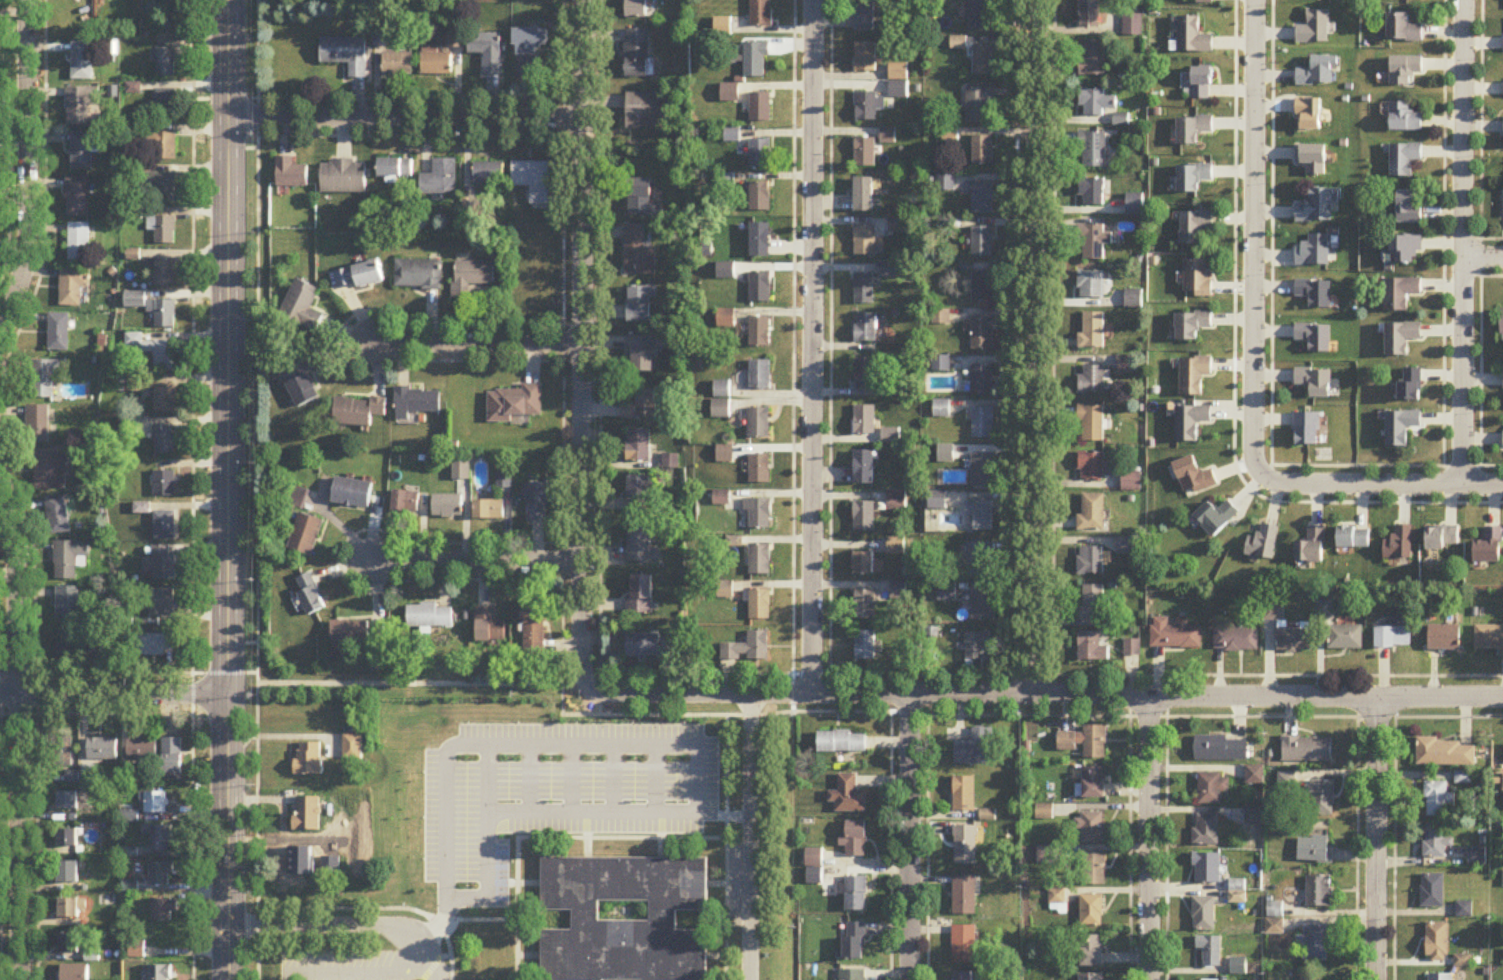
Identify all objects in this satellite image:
building: (1199, 1)
building: (636, 9)
building: (761, 13)
building: (1089, 14)
building: (865, 15)
building: (980, 15)
building: (1315, 29)
building: (1403, 30)
building: (1193, 38)
building: (529, 52)
building: (488, 53)
building: (636, 54)
building: (346, 56)
building: (866, 59)
building: (1093, 59)
building: (756, 61)
building: (82, 62)
building: (983, 62)
building: (165, 64)
building: (398, 66)
building: (436, 66)
building: (1404, 70)
building: (1318, 72)
building: (898, 82)
building: (1202, 85)
road: (454, 91)
building: (730, 94)
building: (1096, 104)
building: (164, 106)
building: (979, 107)
building: (867, 108)
building: (761, 109)
building: (80, 110)
building: (643, 112)
road: (405, 116)
building: (1309, 116)
building: (1404, 119)
road: (562, 130)
road: (1480, 130)
building: (1193, 131)
building: (888, 136)
building: (161, 147)
building: (984, 151)
building: (1093, 151)
building: (82, 152)
building: (865, 153)
building: (761, 155)
building: (1312, 160)
building: (1404, 160)
road: (30, 166)
building: (395, 169)
building: (291, 175)
building: (488, 175)
building: (343, 178)
building: (1193, 178)
building: (440, 180)
building: (533, 181)
building: (163, 189)
building: (1092, 193)
building: (863, 196)
building: (77, 197)
building: (760, 198)
building: (641, 200)
building: (983, 200)
building: (1135, 206)
building: (1316, 208)
building: (1409, 208)
building: (1194, 228)
building: (162, 230)
road: (1442, 233)
road: (1252, 238)
building: (761, 241)
building: (865, 241)
building: (983, 242)
building: (1094, 242)
road: (1463, 242)
building: (79, 243)
building: (1406, 251)
building: (1314, 253)
building: (638, 254)
road: (1475, 256)
road: (1483, 257)
building: (887, 270)
building: (726, 272)
building: (164, 274)
building: (418, 276)
building: (360, 277)
building: (471, 278)
building: (1198, 279)
building: (1091, 285)
building: (73, 286)
building: (761, 288)
building: (983, 289)
building: (863, 290)
building: (1315, 294)
building: (1401, 294)
building: (640, 305)
building: (302, 307)
building: (164, 314)
building: (1502, 323)
building: (1192, 326)
building: (865, 328)
building: (1093, 332)
building: (58, 333)
building: (760, 333)
building: (981, 333)
road: (1014, 334)
road: (1053, 334)
road: (827, 335)
road: (792, 336)
road: (476, 338)
building: (1314, 339)
building: (1401, 339)
road: (580, 344)
road: (815, 345)
road: (1037, 345)
road: (1271, 348)
road: (561, 352)
building: (162, 355)
road: (458, 355)
building: (640, 355)
road: (1479, 359)
road: (599, 363)
building: (866, 374)
road: (1233, 374)
building: (760, 376)
building: (1194, 376)
building: (45, 378)
building: (1093, 380)
building: (983, 381)
building: (302, 383)
building: (1315, 383)
building: (1411, 386)
building: (164, 398)
building: (416, 404)
building: (515, 404)
building: (641, 409)
building: (722, 411)
building: (358, 412)
building: (865, 421)
building: (1092, 423)
building: (1192, 423)
building: (983, 424)
building: (759, 425)
building: (37, 426)
building: (1401, 429)
building: (1307, 431)
building: (164, 440)
building: (638, 447)
building: (946, 455)
building: (1091, 467)
building: (864, 469)
building: (50, 471)
building: (760, 471)
building: (982, 472)
building: (952, 478)
building: (1195, 479)
building: (1131, 482)
building: (162, 485)
road: (1380, 485)
road: (256, 489)
road: (192, 490)
road: (226, 490)
building: (352, 495)
building: (640, 496)
building: (299, 499)
building: (722, 500)
building: (896, 502)
building: (937, 502)
building: (405, 503)
building: (538, 503)
building: (447, 508)
building: (489, 511)
building: (1092, 514)
building: (759, 515)
building: (57, 516)
building: (982, 516)
building: (864, 518)
building: (1217, 519)
building: (165, 526)
building: (306, 536)
building: (1354, 539)
building: (1442, 539)
building: (640, 545)
building: (1264, 545)
building: (1400, 546)
building: (1125, 547)
building: (896, 548)
building: (1312, 549)
building: (1490, 549)
road: (561, 556)
road: (477, 557)
building: (69, 560)
building: (978, 561)
building: (760, 562)
building: (1090, 562)
building: (161, 565)
building: (864, 565)
road: (581, 575)
building: (309, 595)
building: (946, 595)
building: (642, 597)
building: (1094, 604)
building: (162, 605)
building: (67, 606)
building: (759, 606)
building: (865, 606)
building: (982, 607)
building: (1324, 610)
building: (429, 617)
building: (489, 627)
building: (534, 632)
building: (351, 635)
building: (1175, 635)
building: (1345, 638)
building: (1394, 638)
building: (1444, 639)
building: (1489, 639)
building: (1236, 641)
building: (1293, 641)
road: (241, 642)
building: (155, 646)
building: (649, 647)
building: (866, 647)
building: (77, 649)
building: (977, 649)
building: (1092, 649)
building: (748, 650)
road: (1032, 669)
road: (128, 672)
road: (1044, 692)
road: (113, 694)
road: (866, 706)
road: (96, 714)
road: (17, 740)
building: (842, 742)
building: (1085, 742)
road: (676, 744)
building: (353, 747)
building: (1221, 748)
building: (142, 749)
building: (976, 749)
building: (102, 750)
building: (1307, 750)
building: (61, 752)
building: (1445, 754)
building: (173, 757)
building: (309, 759)
building: (1094, 783)
building: (1502, 783)
building: (1212, 788)
building: (964, 794)
building: (848, 796)
building: (1321, 798)
road: (1158, 800)
building: (1436, 800)
building: (67, 801)
building: (154, 804)
road: (723, 813)
building: (308, 814)
road: (36, 825)
building: (1092, 828)
building: (1206, 830)
road: (749, 835)
road: (909, 836)
road: (1148, 837)
road: (1374, 837)
building: (67, 838)
building: (159, 838)
building: (855, 840)
building: (1435, 842)
road: (888, 843)
road: (926, 843)
road: (1121, 845)
road: (1346, 845)
road: (1388, 845)
building: (965, 846)
building: (1315, 850)
building: (1477, 858)
building: (814, 867)
building: (1094, 869)
building: (1207, 869)
building: (68, 873)
building: (161, 875)
building: (1432, 891)
building: (1318, 892)
building: (854, 894)
building: (964, 896)
road: (378, 908)
building: (69, 909)
building: (162, 910)
building: (1464, 910)
building: (1091, 911)
building: (1203, 914)
road: (345, 925)
road: (1160, 934)
building: (854, 941)
building: (1437, 942)
building: (69, 943)
building: (1315, 943)
building: (964, 946)
building: (137, 951)
building: (1092, 951)
building: (1209, 951)
building: (73, 972)
building: (159, 973)
road: (360, 973)
road: (436, 975)
building: (851, 975)
building: (964, 976)
building: (1089, 977)
building: (1311, 977)
building: (1440, 977)

